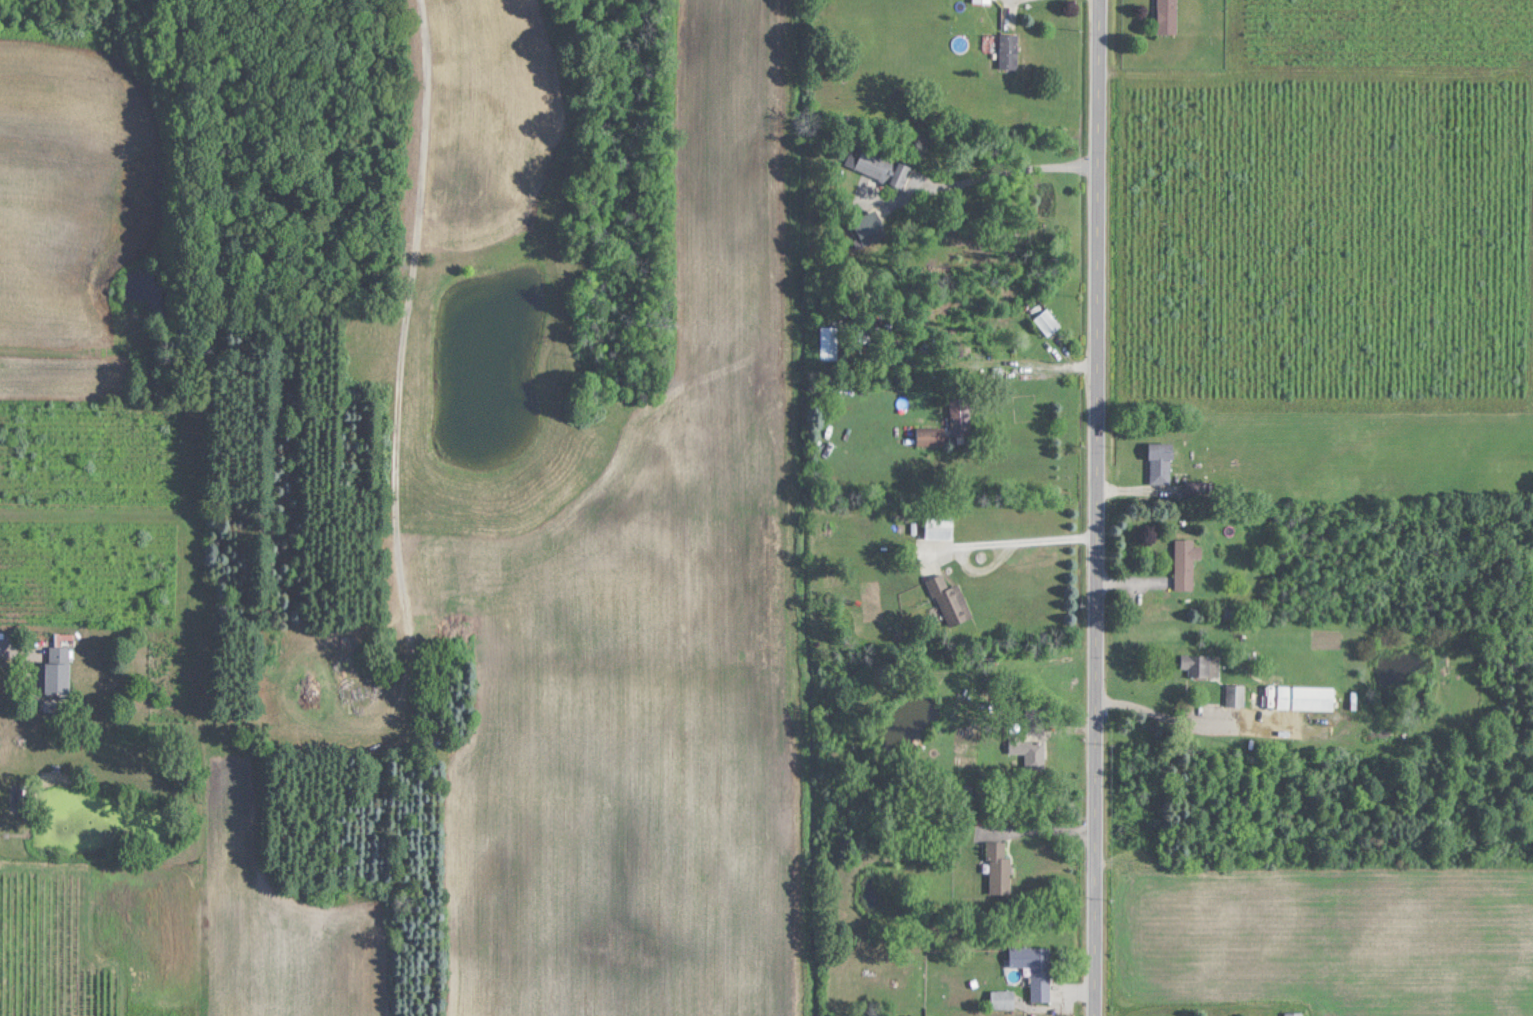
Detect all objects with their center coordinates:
building: (982, 1)
road: (1040, 6)
building: (1168, 16)
building: (1008, 51)
road: (428, 135)
building: (878, 166)
road: (1019, 168)
building: (869, 228)
building: (1049, 320)
building: (829, 341)
building: (951, 426)
building: (1161, 462)
road: (1100, 508)
building: (939, 526)
road: (993, 540)
building: (1185, 562)
building: (948, 600)
road: (17, 646)
building: (1202, 664)
building: (57, 669)
building: (1236, 695)
building: (1306, 697)
road: (1156, 711)
building: (1034, 721)
road: (1045, 824)
building: (999, 868)
building: (1041, 975)
building: (1003, 999)
building: (1294, 1013)

